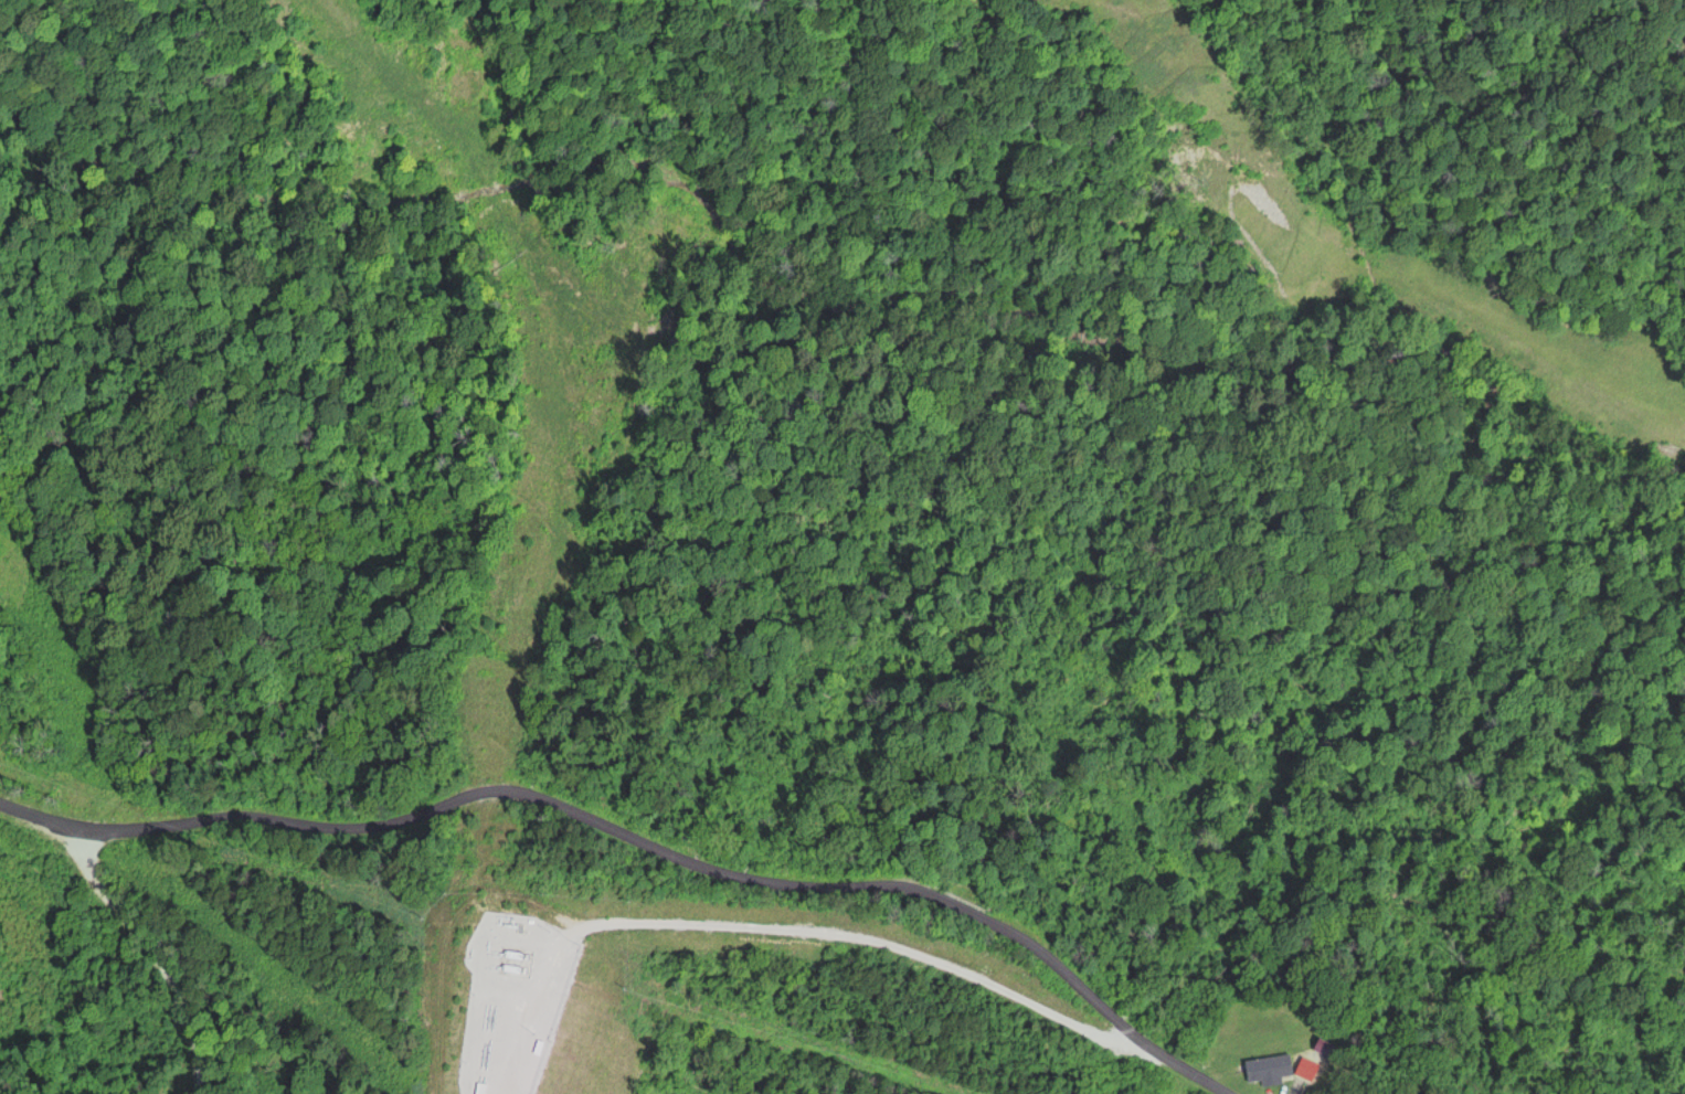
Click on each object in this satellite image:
road: (638, 839)
road: (777, 926)
road: (144, 955)
building: (1268, 1073)

